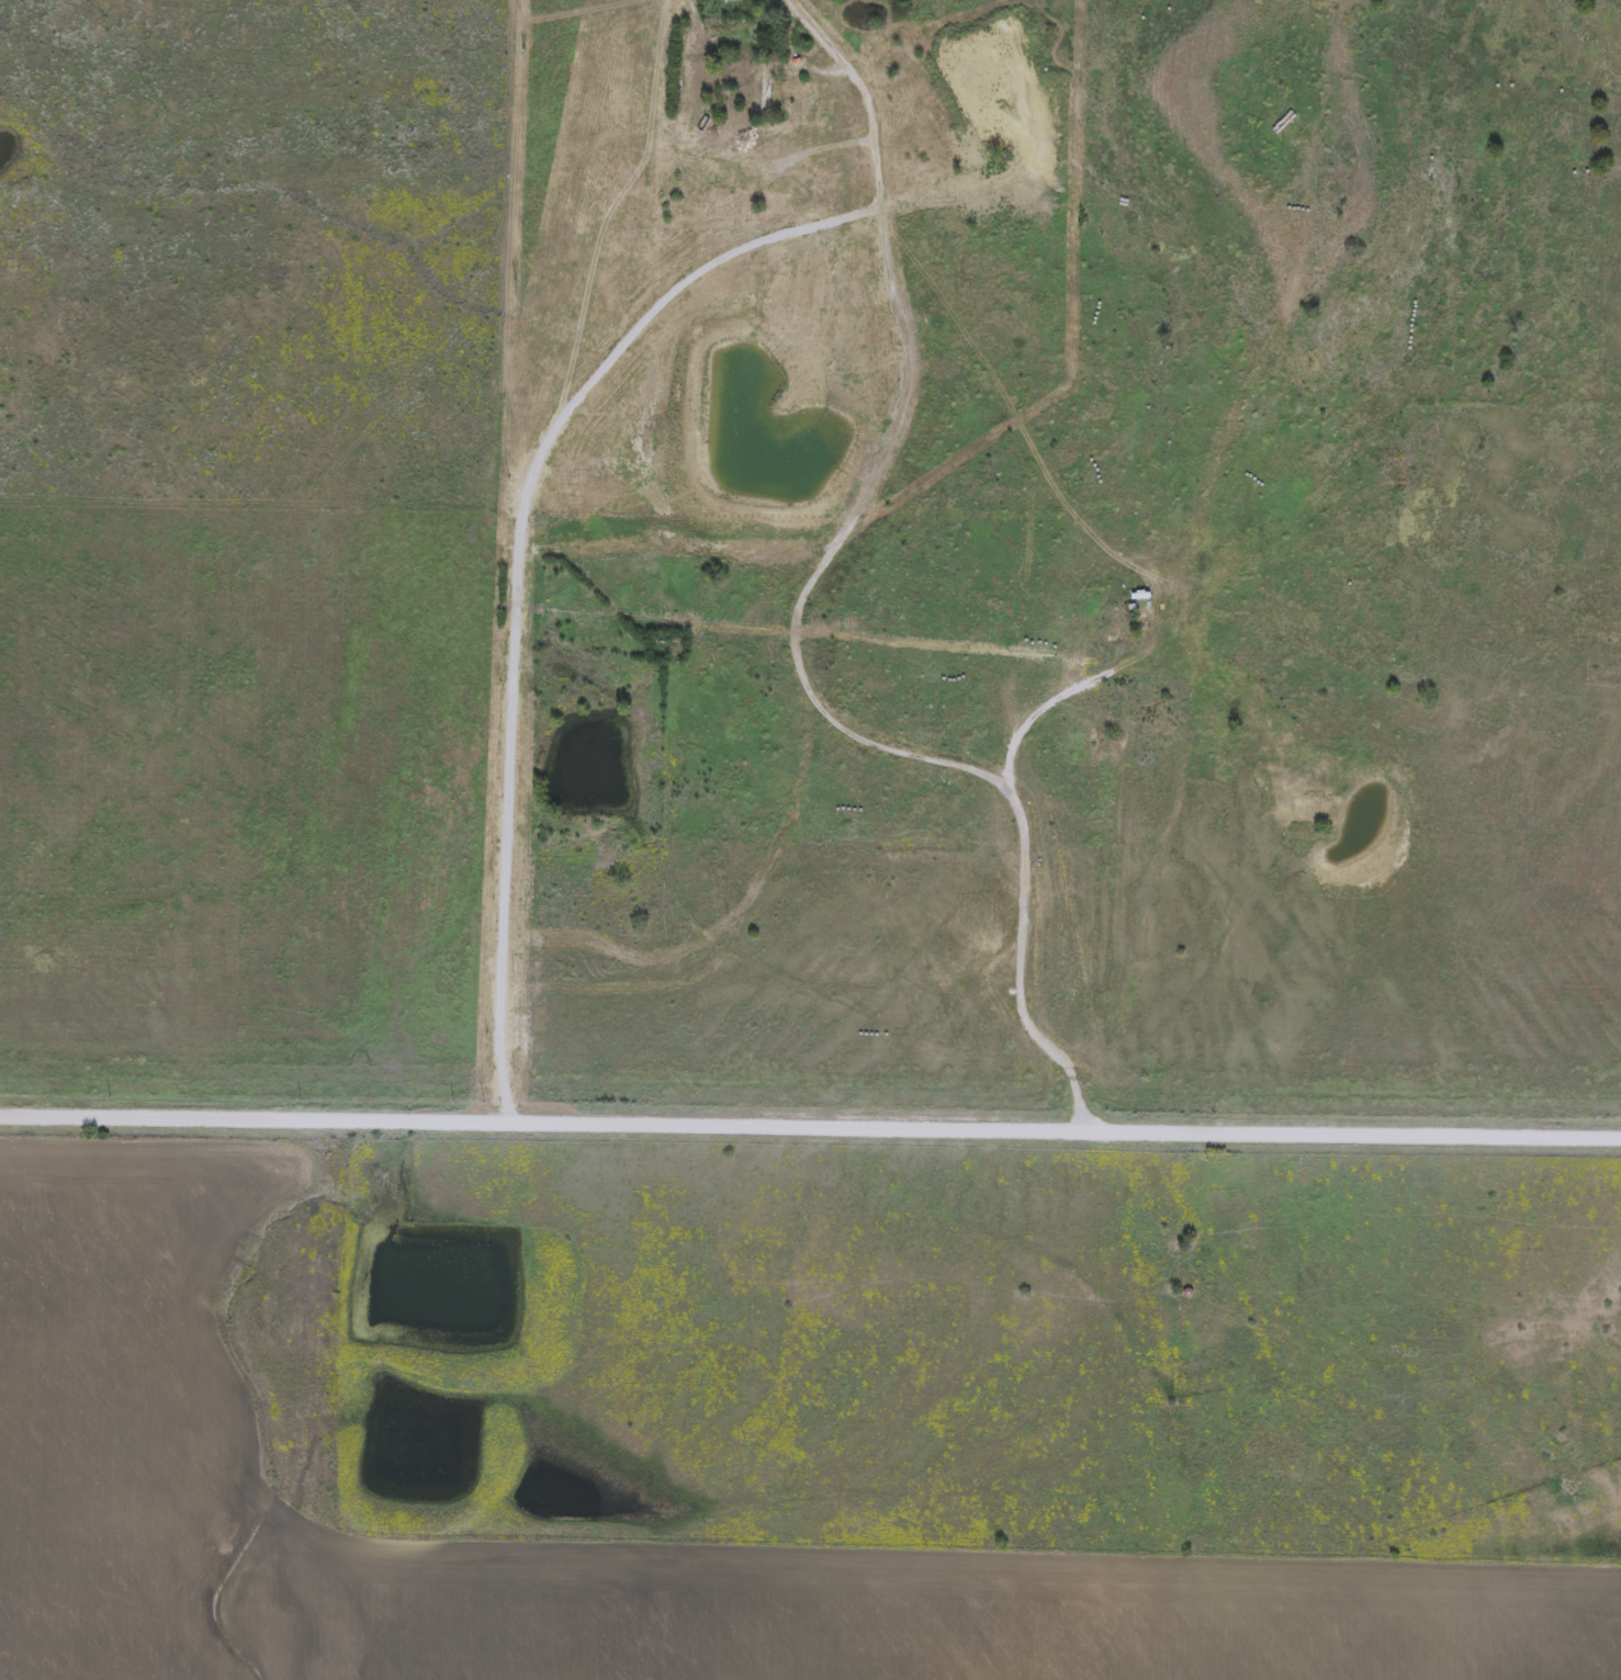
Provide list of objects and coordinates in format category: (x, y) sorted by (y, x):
building: (757, 90)
road: (699, 147)
building: (728, 229)
road: (669, 553)
road: (758, 605)
road: (793, 618)
building: (657, 640)
road: (810, 1130)

